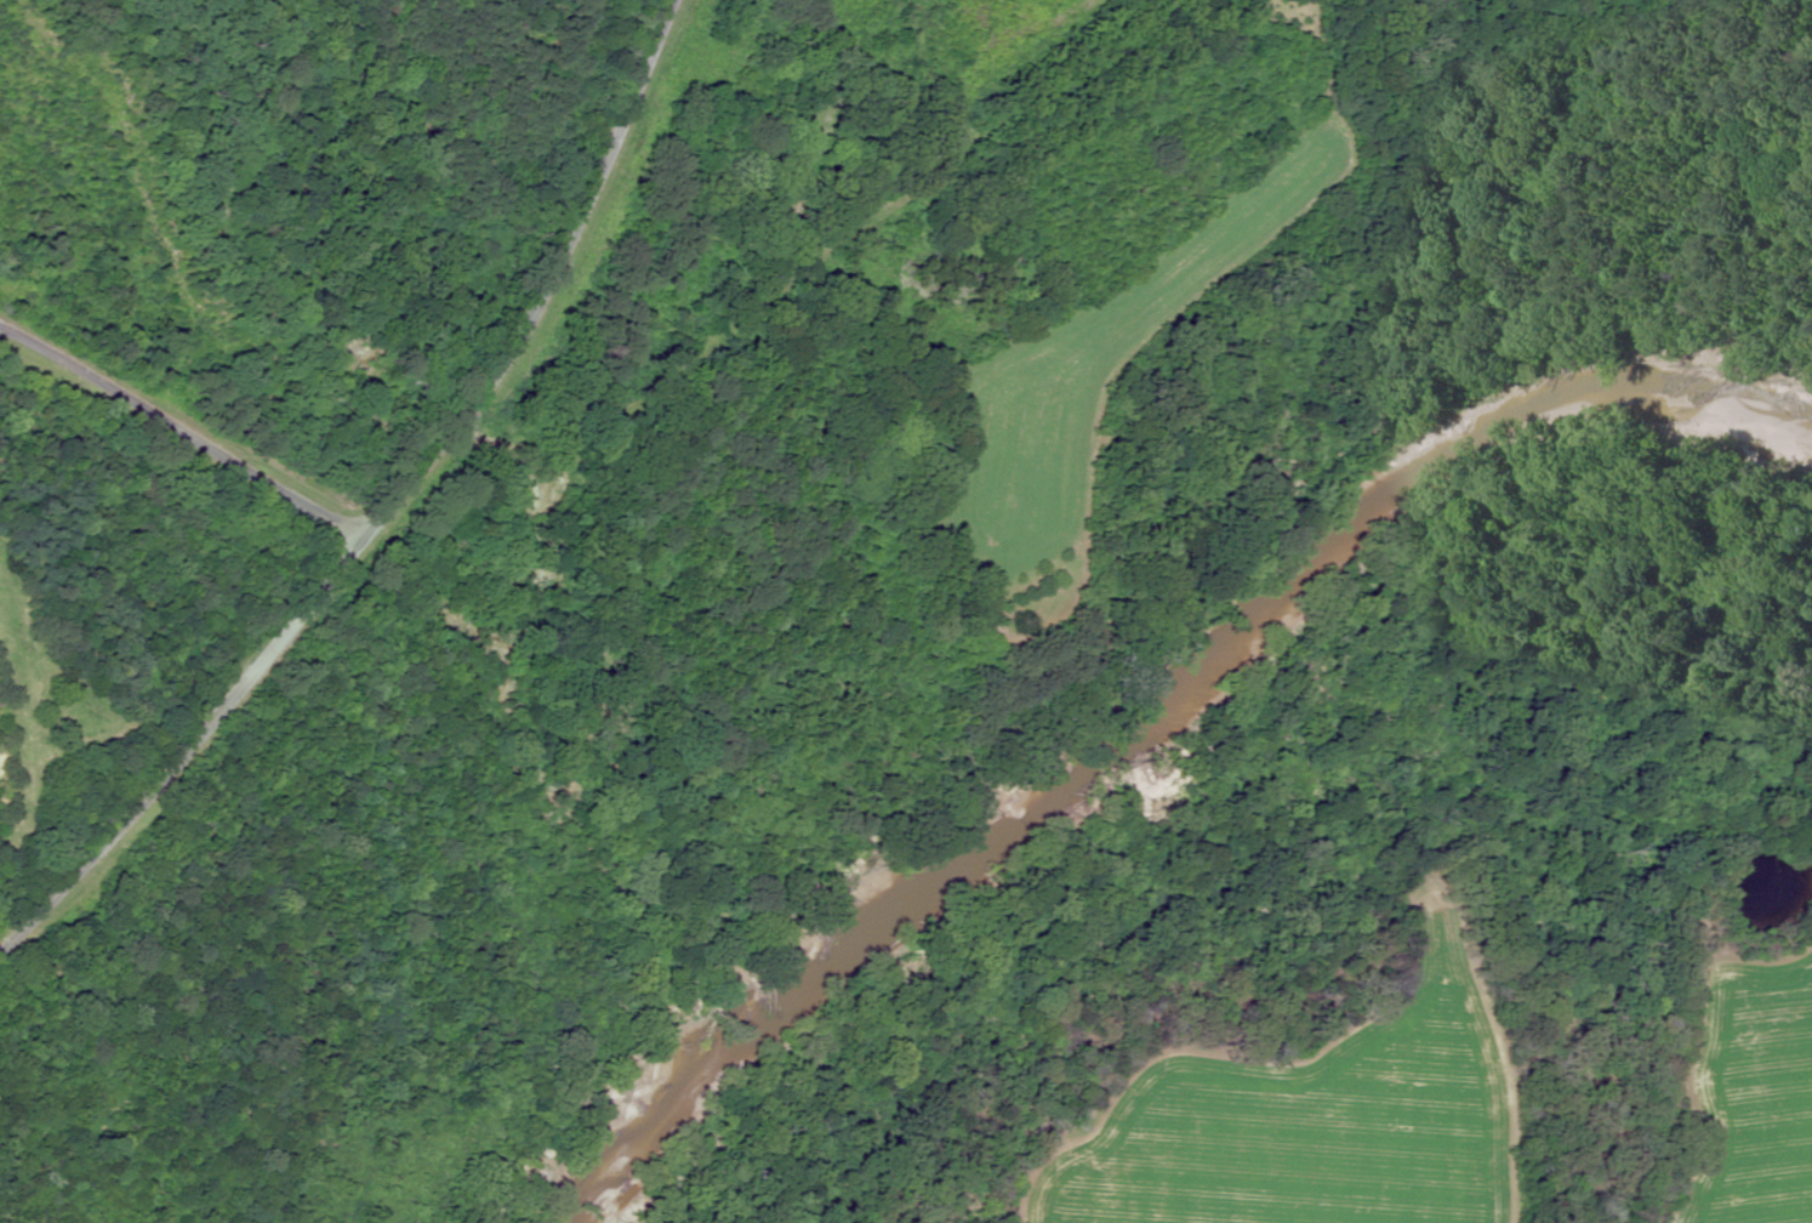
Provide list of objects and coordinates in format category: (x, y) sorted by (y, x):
road: (184, 410)
road: (386, 502)

